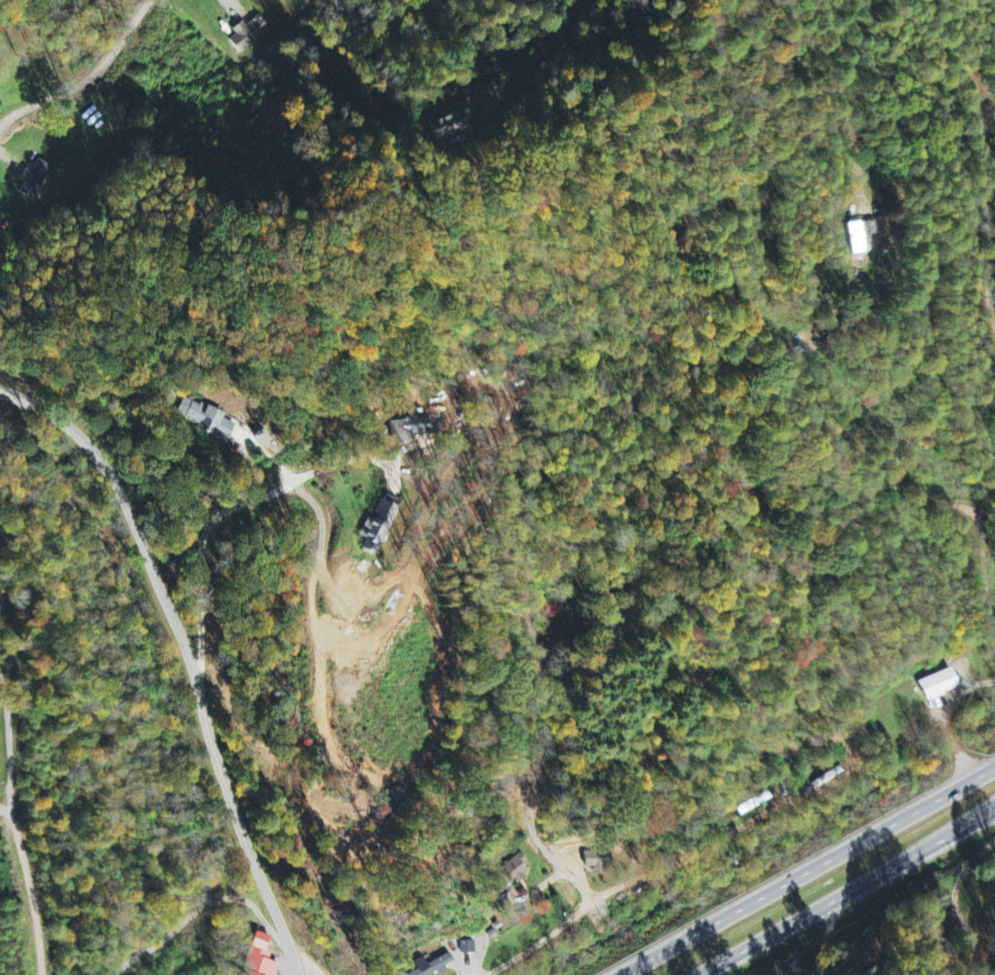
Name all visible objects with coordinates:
building: (246, 34)
road: (89, 79)
building: (446, 125)
building: (37, 181)
road: (33, 407)
building: (208, 417)
building: (937, 685)
road: (201, 688)
road: (810, 871)
road: (841, 894)
road: (958, 895)
road: (560, 927)
road: (824, 938)
building: (465, 947)
building: (259, 957)
building: (433, 965)
building: (852, 972)

